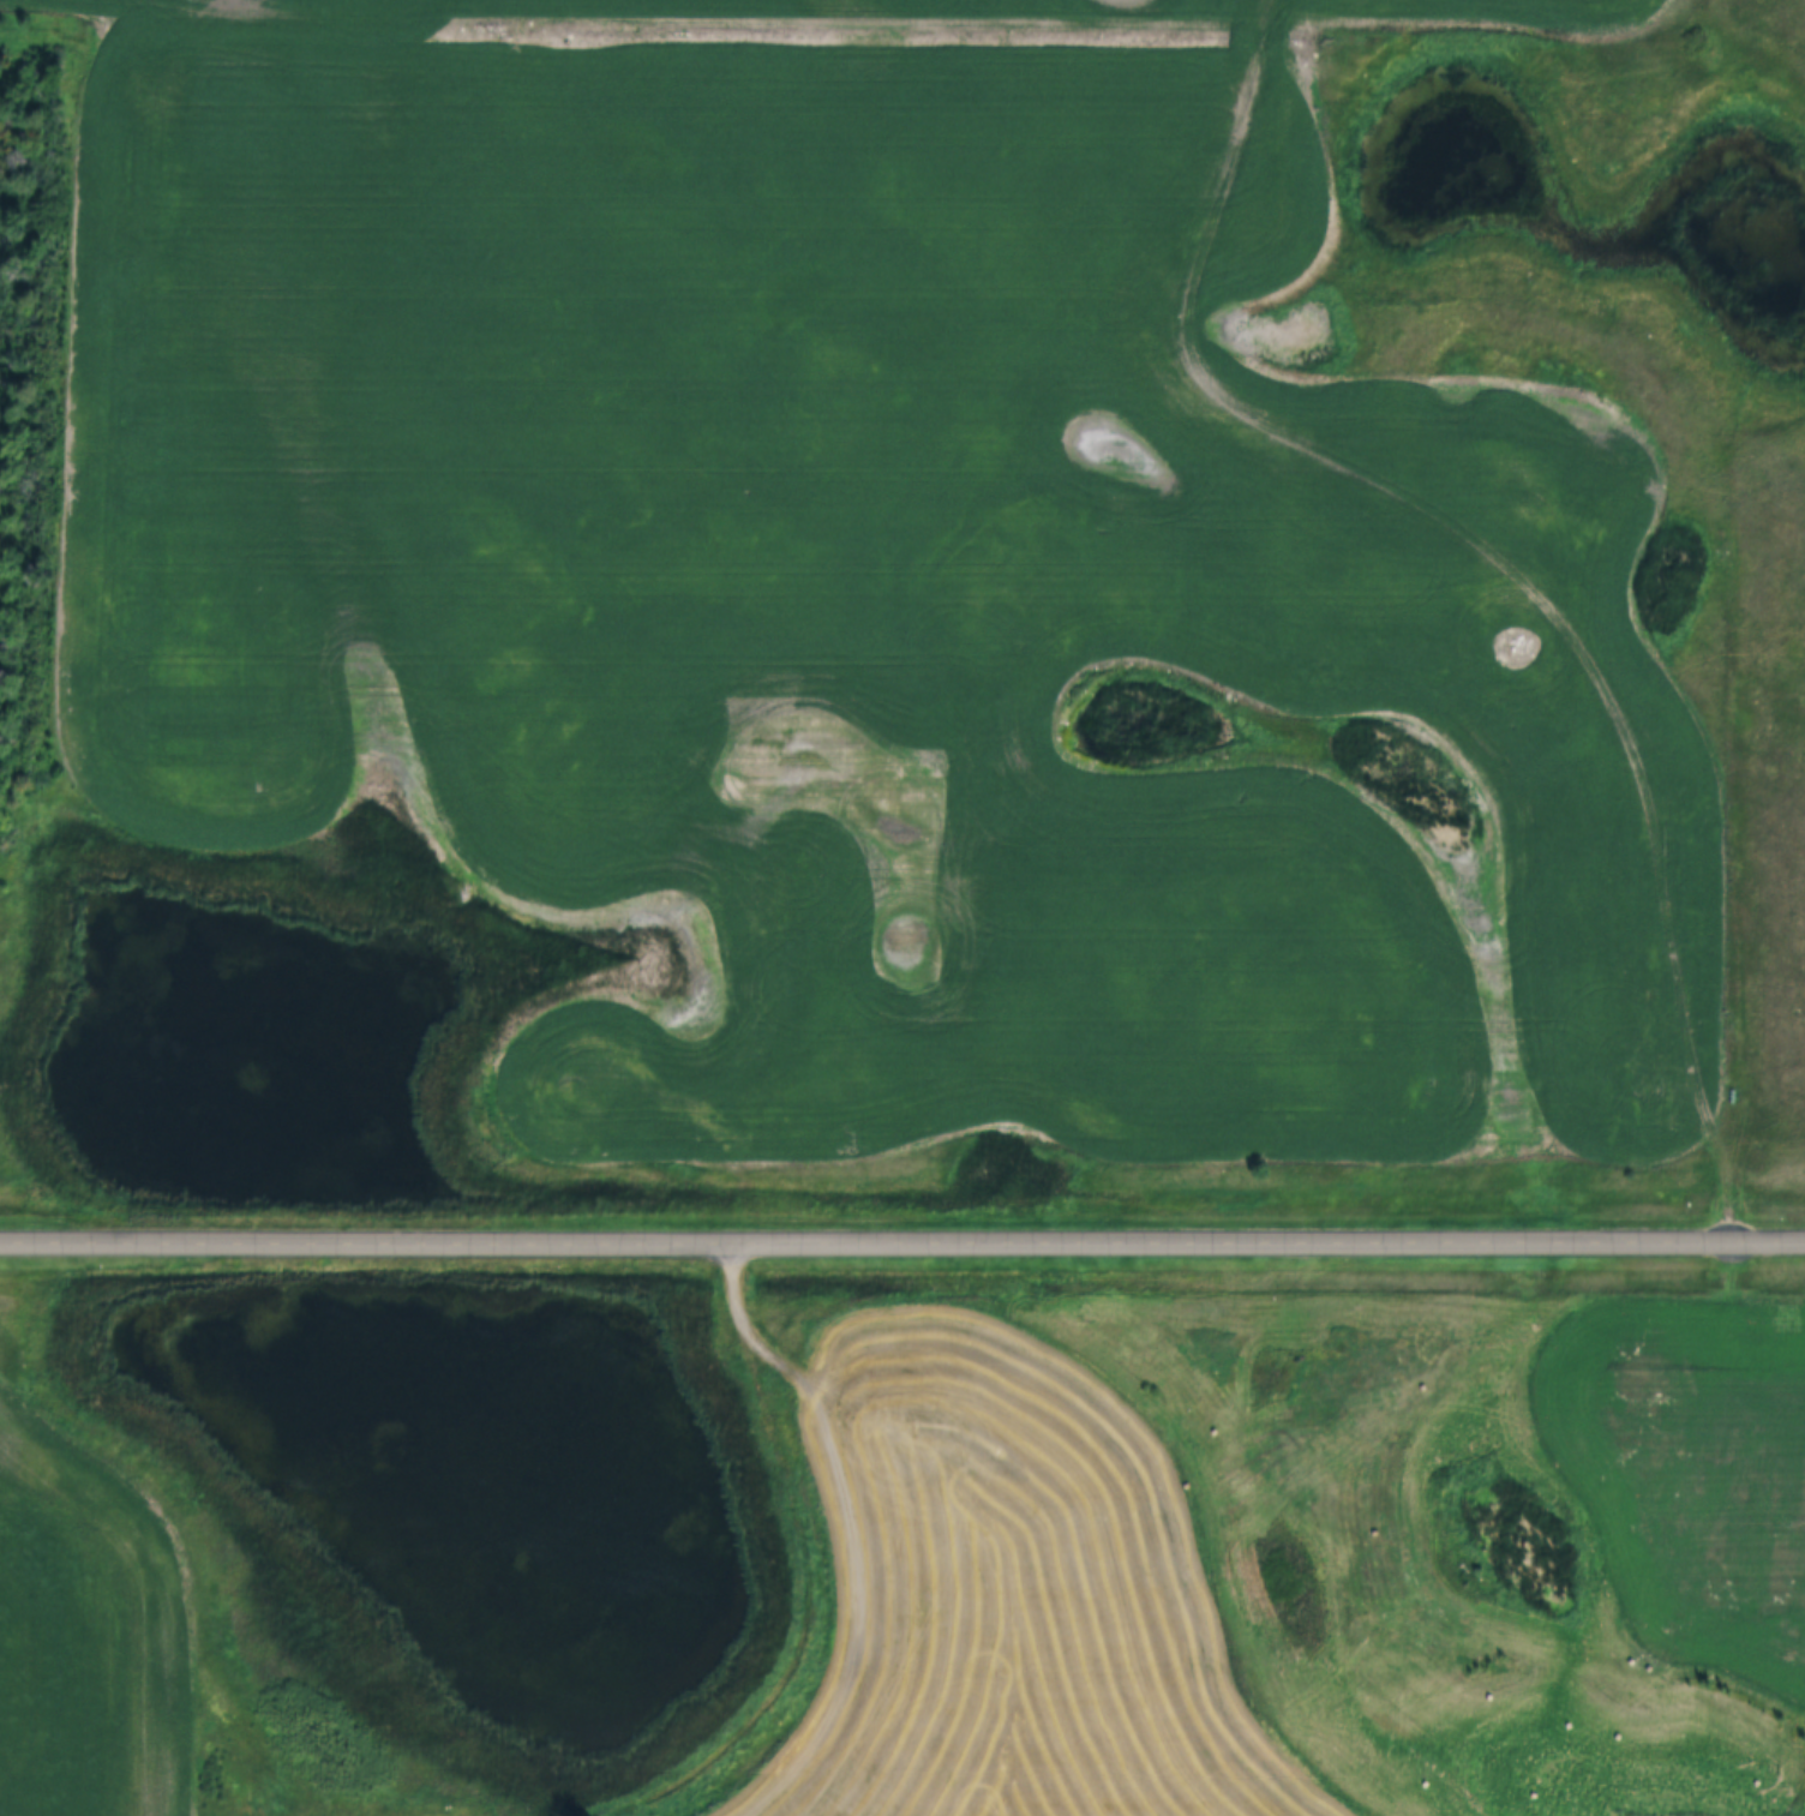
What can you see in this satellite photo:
road: (902, 1242)
road: (810, 1574)

